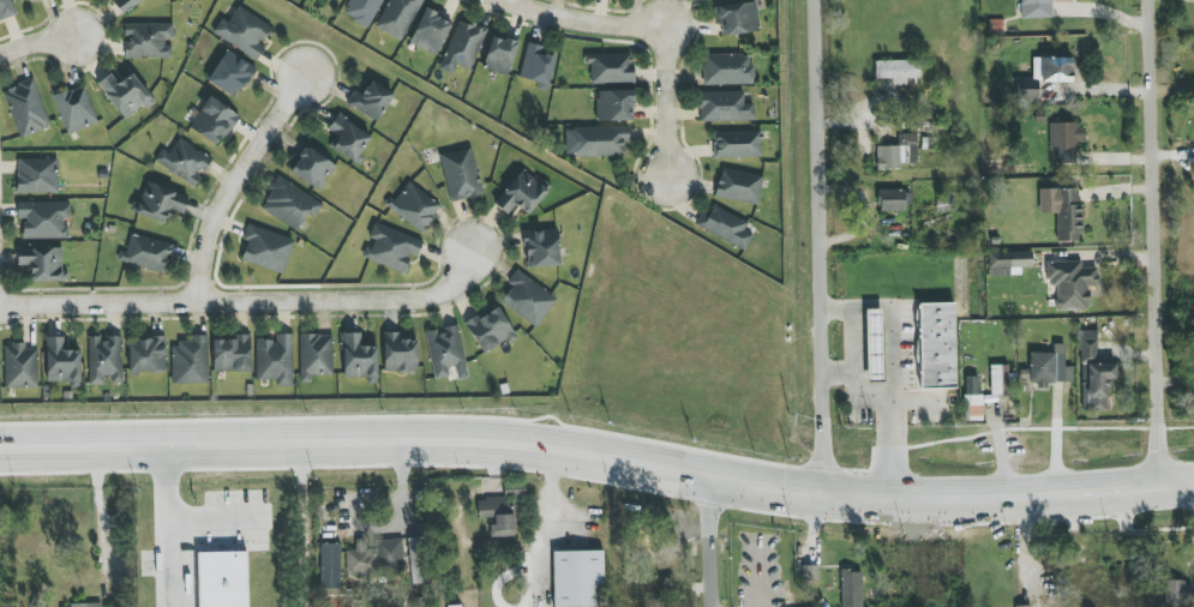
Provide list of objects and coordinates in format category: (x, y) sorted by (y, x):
building: (708, 0)
building: (125, 5)
building: (6, 8)
building: (1036, 8)
building: (362, 11)
building: (397, 17)
building: (737, 18)
road: (582, 20)
building: (244, 32)
building: (430, 32)
road: (38, 40)
building: (148, 40)
building: (462, 47)
building: (499, 55)
building: (536, 64)
building: (611, 68)
building: (727, 70)
building: (1052, 70)
building: (898, 71)
building: (230, 73)
building: (1026, 90)
building: (125, 94)
building: (370, 101)
road: (666, 101)
building: (614, 106)
building: (724, 107)
building: (25, 108)
building: (74, 109)
building: (214, 121)
building: (348, 138)
building: (1066, 139)
building: (600, 140)
building: (737, 144)
building: (898, 152)
building: (184, 162)
building: (312, 168)
building: (461, 175)
building: (37, 176)
road: (239, 182)
building: (738, 186)
building: (521, 193)
building: (894, 199)
building: (158, 203)
building: (943, 203)
building: (289, 204)
building: (414, 206)
building: (1063, 211)
building: (44, 220)
building: (725, 227)
road: (1160, 242)
road: (824, 246)
building: (391, 247)
building: (266, 248)
building: (541, 248)
building: (145, 253)
road: (1102, 257)
building: (1007, 262)
building: (42, 263)
building: (1070, 284)
building: (527, 299)
road: (247, 301)
building: (490, 329)
road: (851, 329)
road: (889, 335)
building: (874, 344)
building: (936, 345)
building: (445, 351)
building: (398, 353)
building: (232, 354)
building: (146, 355)
building: (314, 356)
building: (359, 359)
building: (104, 360)
building: (275, 360)
building: (191, 361)
building: (62, 362)
building: (19, 366)
building: (1049, 367)
building: (1093, 374)
building: (998, 380)
building: (972, 398)
road: (912, 401)
road: (889, 410)
road: (356, 435)
road: (952, 495)
road: (227, 506)
road: (102, 517)
road: (300, 522)
road: (551, 522)
road: (713, 537)
building: (376, 558)
building: (418, 560)
building: (330, 566)
building: (809, 572)
building: (222, 578)
building: (577, 578)
building: (851, 588)
building: (1178, 594)
building: (97, 606)
building: (240, 606)
building: (458, 606)
building: (1028, 606)

